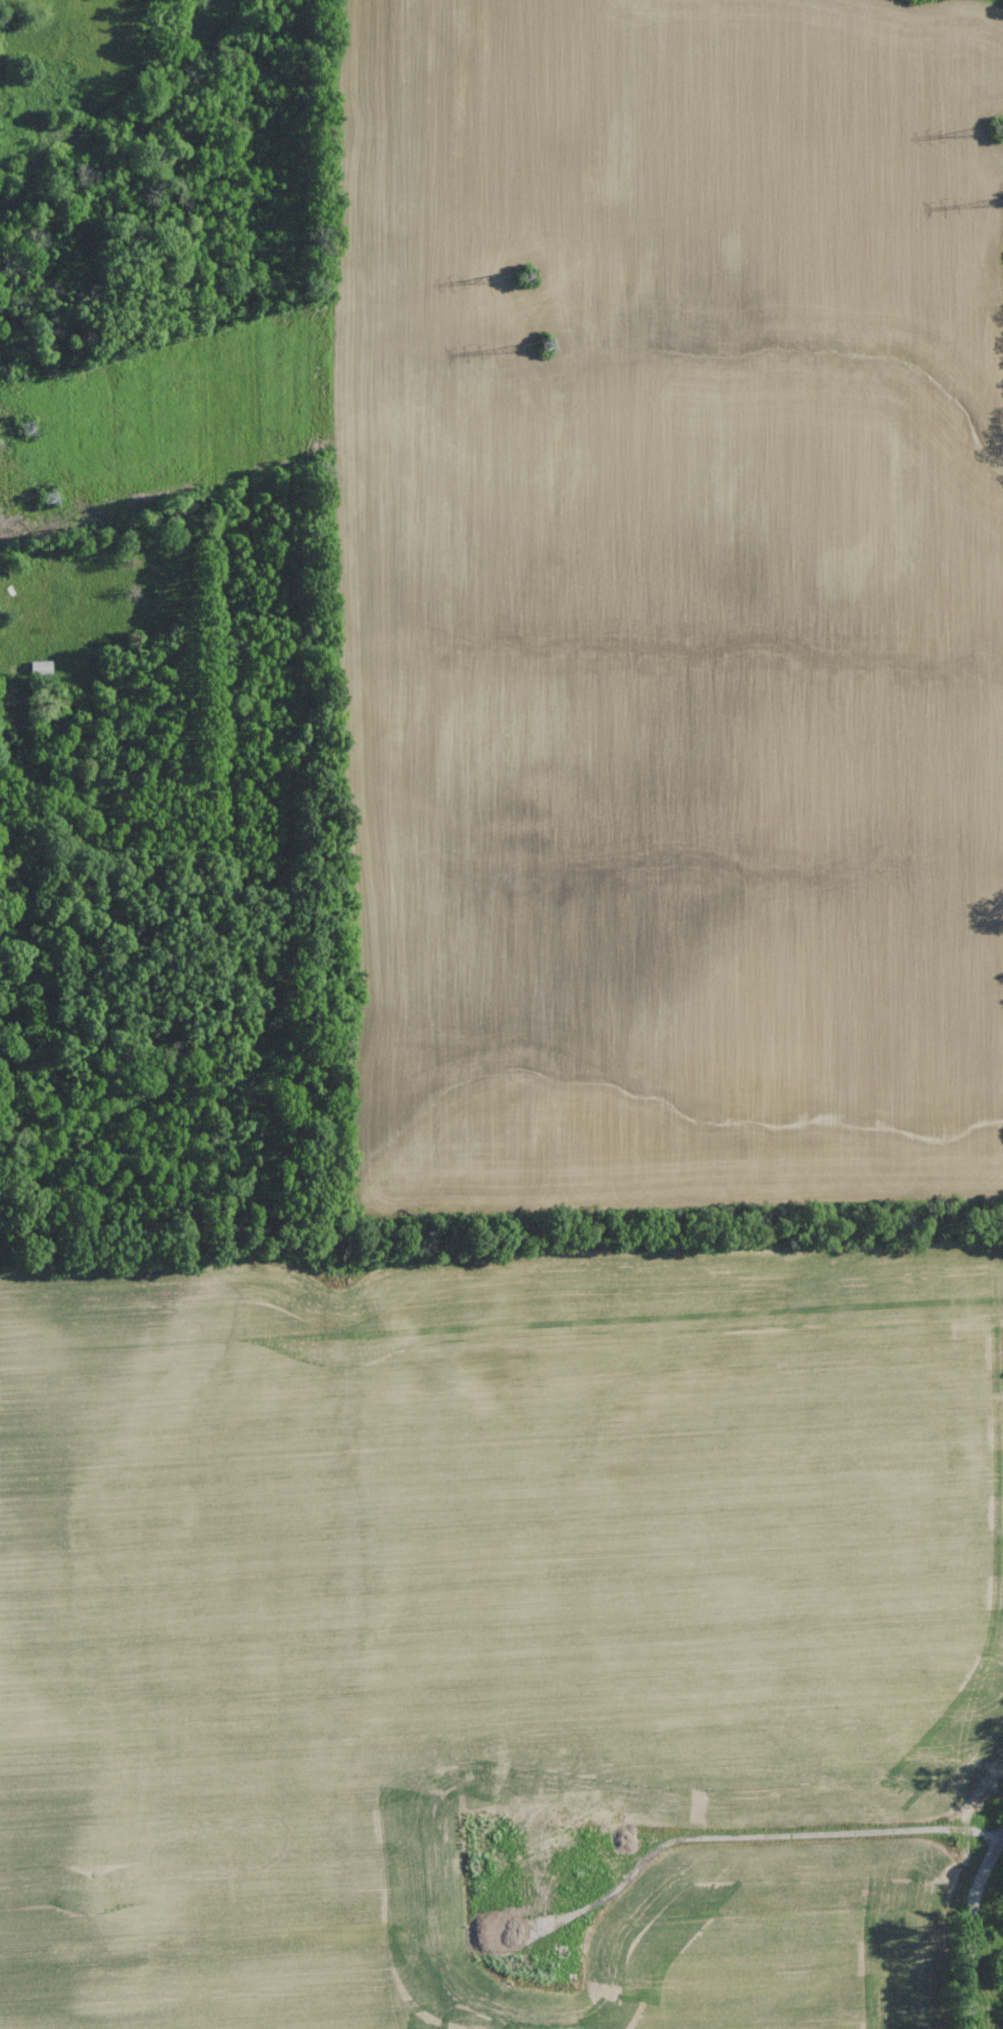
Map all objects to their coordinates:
power tower: (1001, 128)
power tower: (521, 275)
power tower: (546, 345)
power tower: (25, 428)
power tower: (44, 498)
building: (41, 667)
crop: (471, 1611)
road: (971, 1831)
road: (970, 1929)

